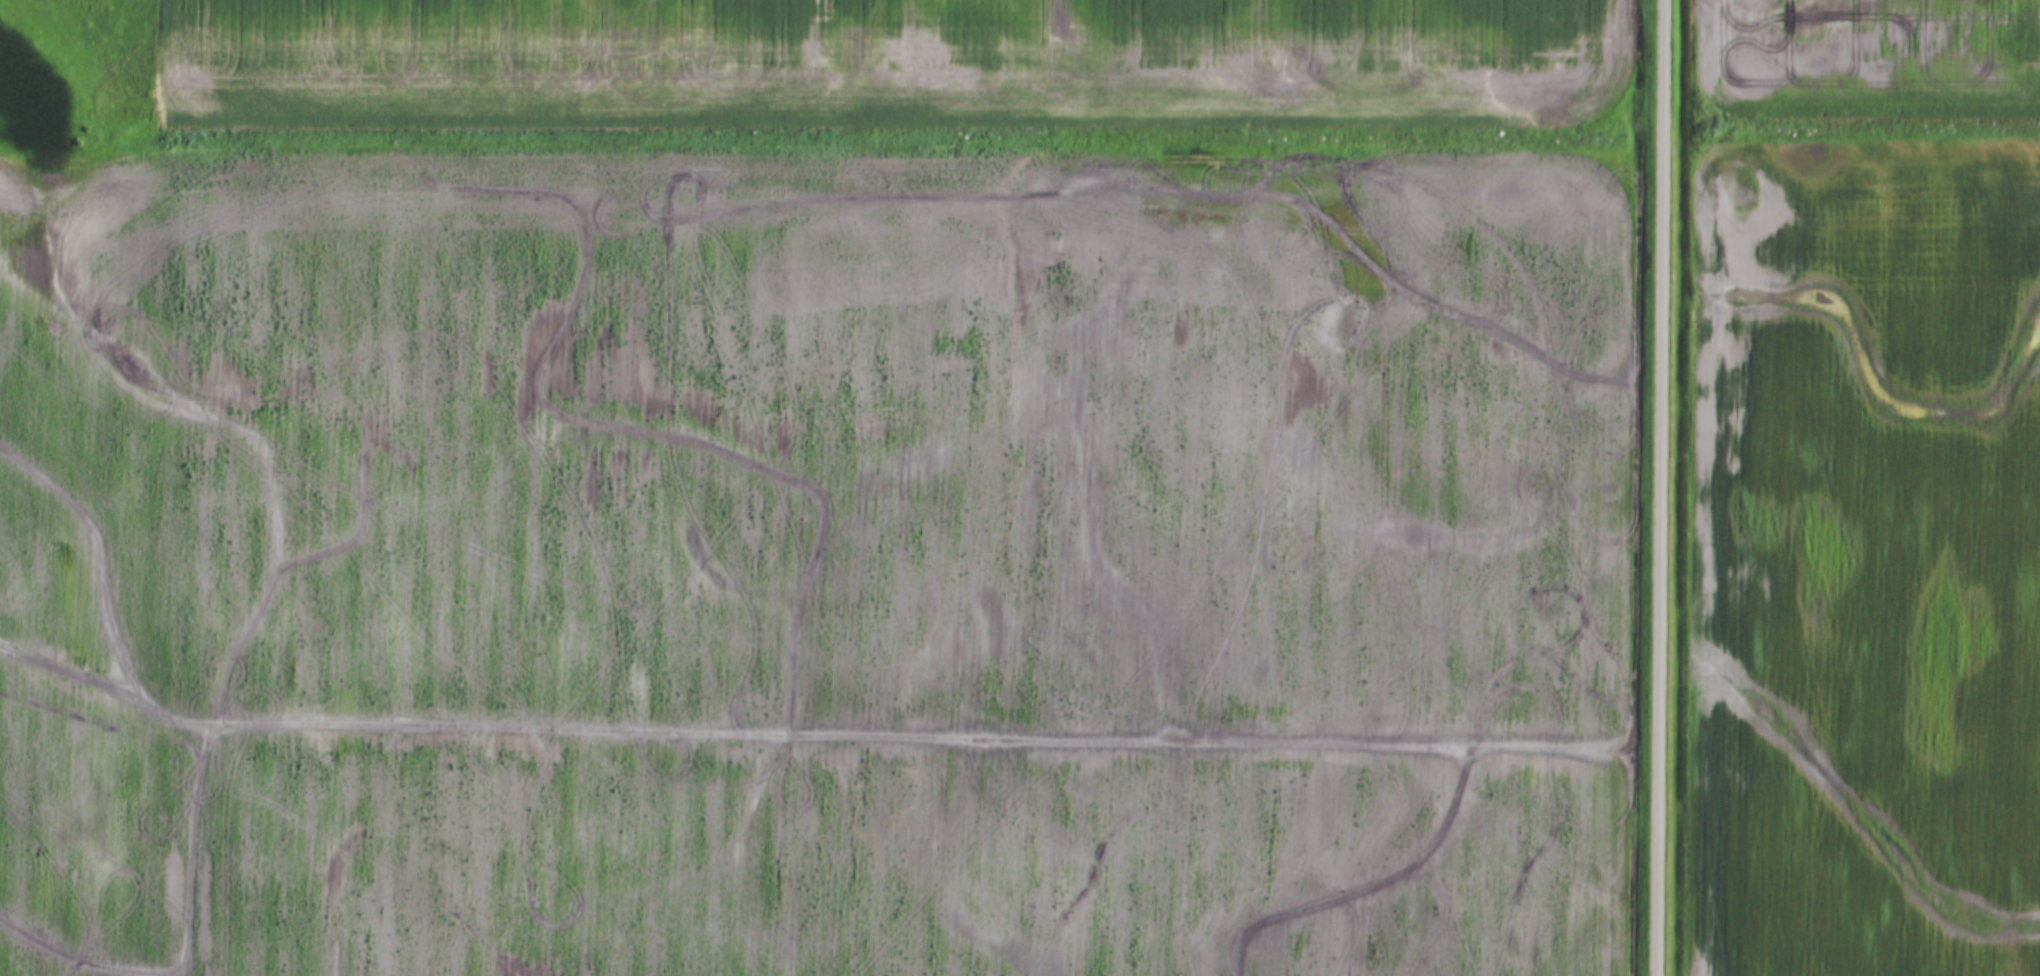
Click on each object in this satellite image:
road: (1665, 488)

